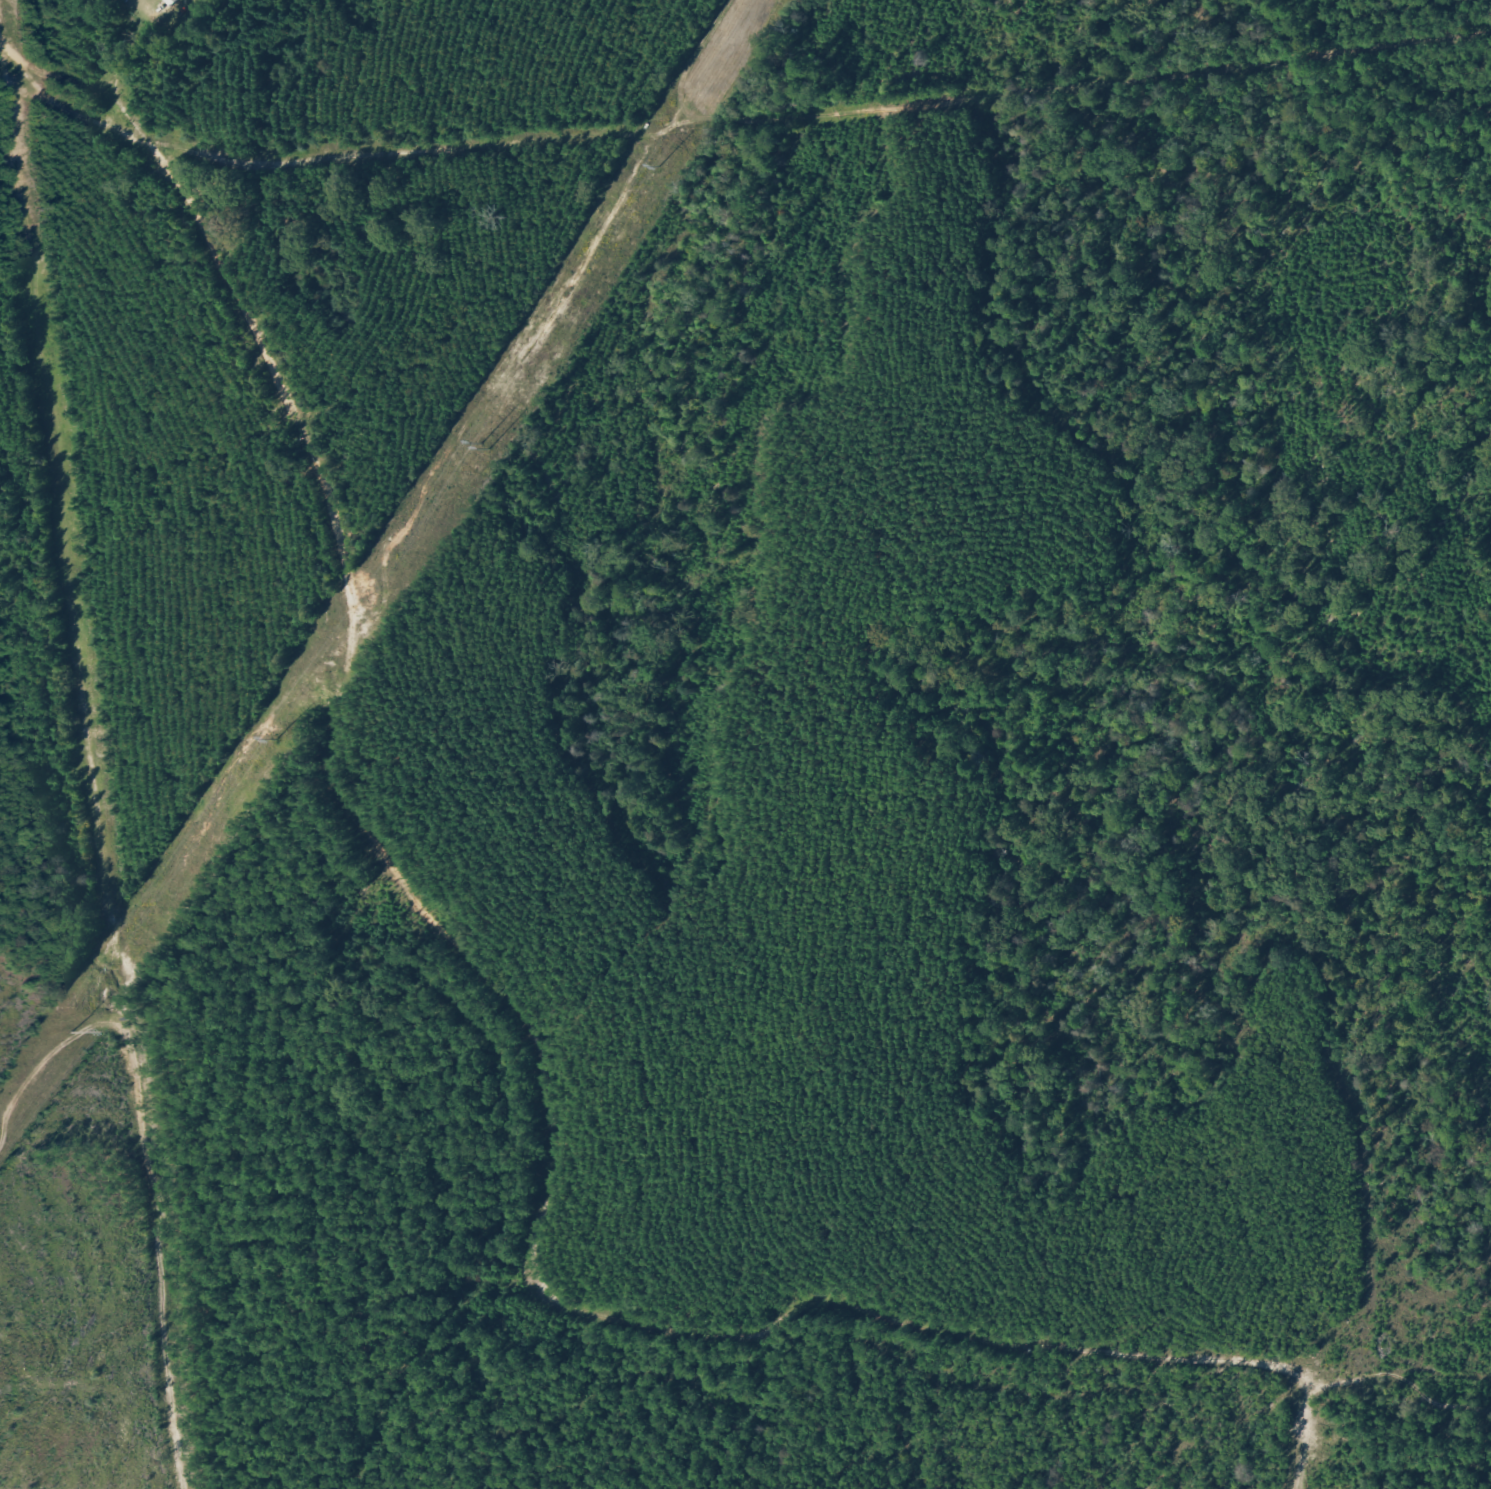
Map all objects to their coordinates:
building: (169, 2)
road: (244, 381)

